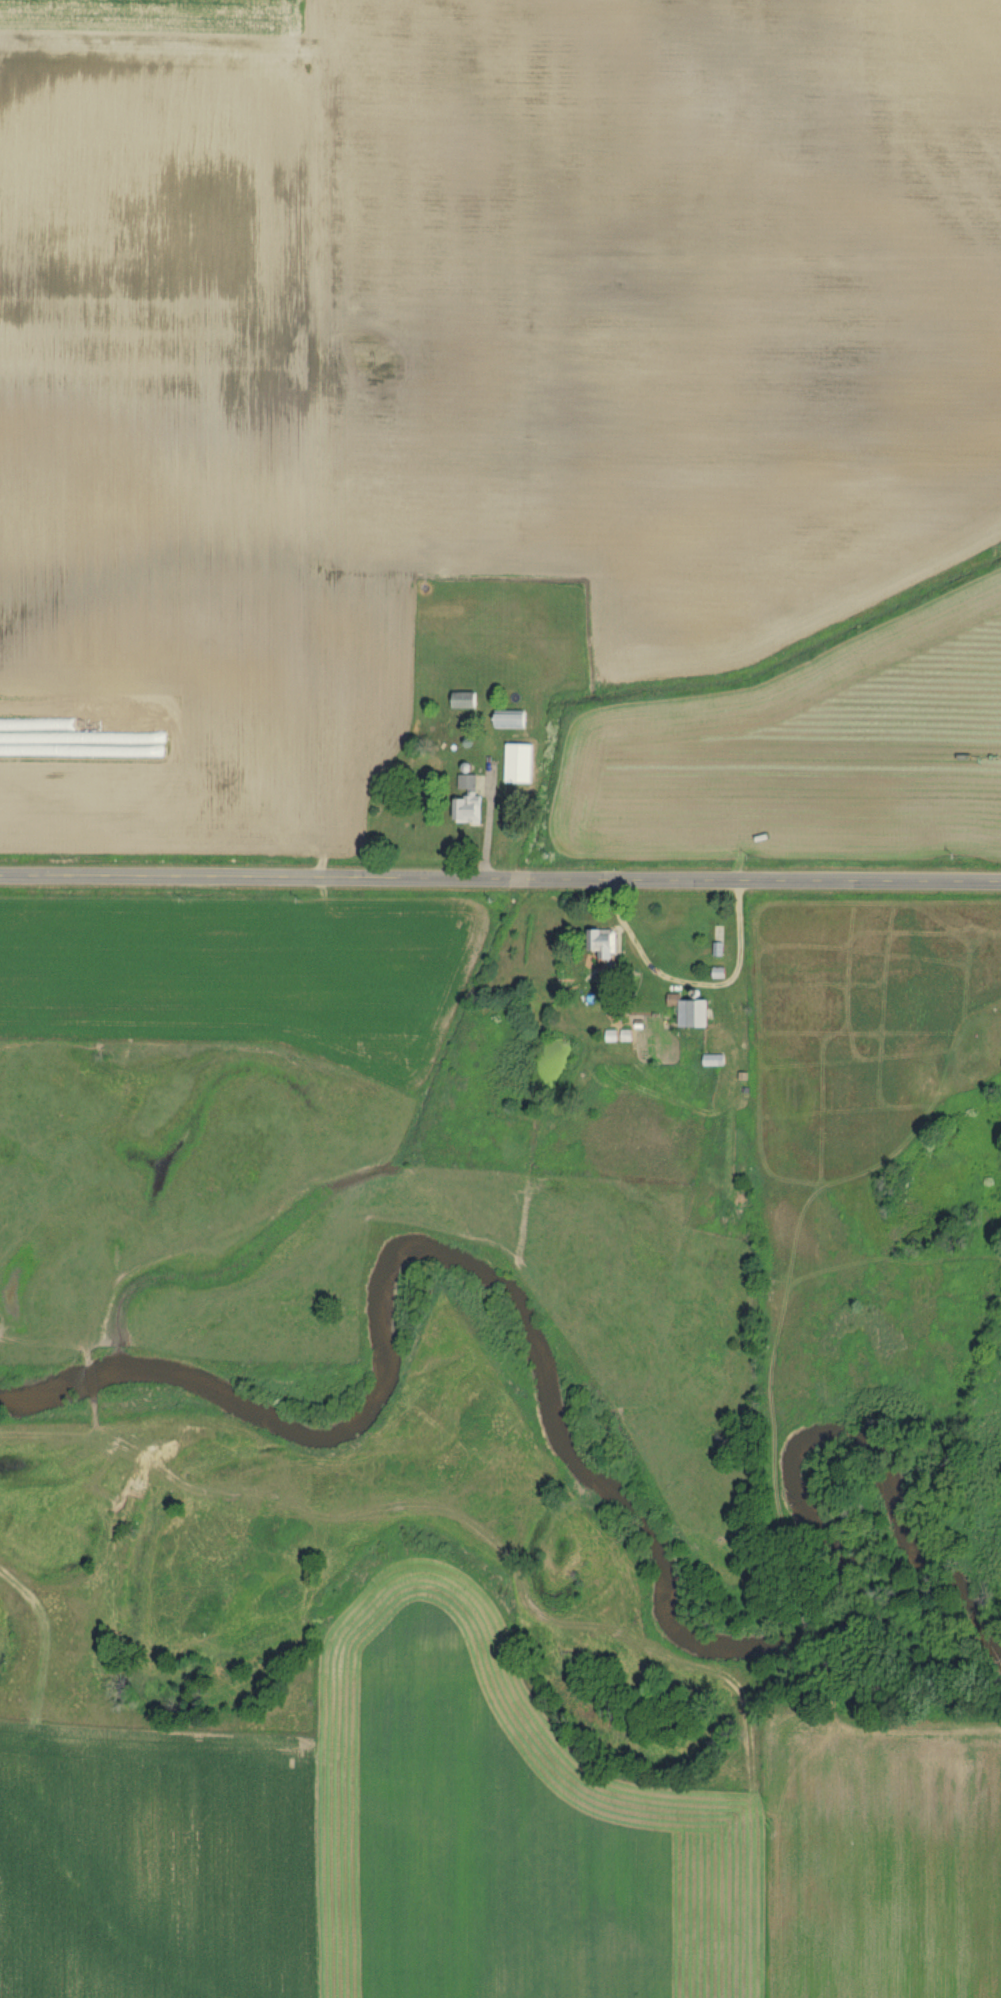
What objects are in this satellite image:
building: (466, 704)
building: (513, 723)
building: (522, 768)
building: (471, 803)
road: (488, 824)
road: (500, 880)
building: (608, 949)
road: (697, 983)
building: (698, 1017)
building: (716, 1064)
river: (613, 1497)

